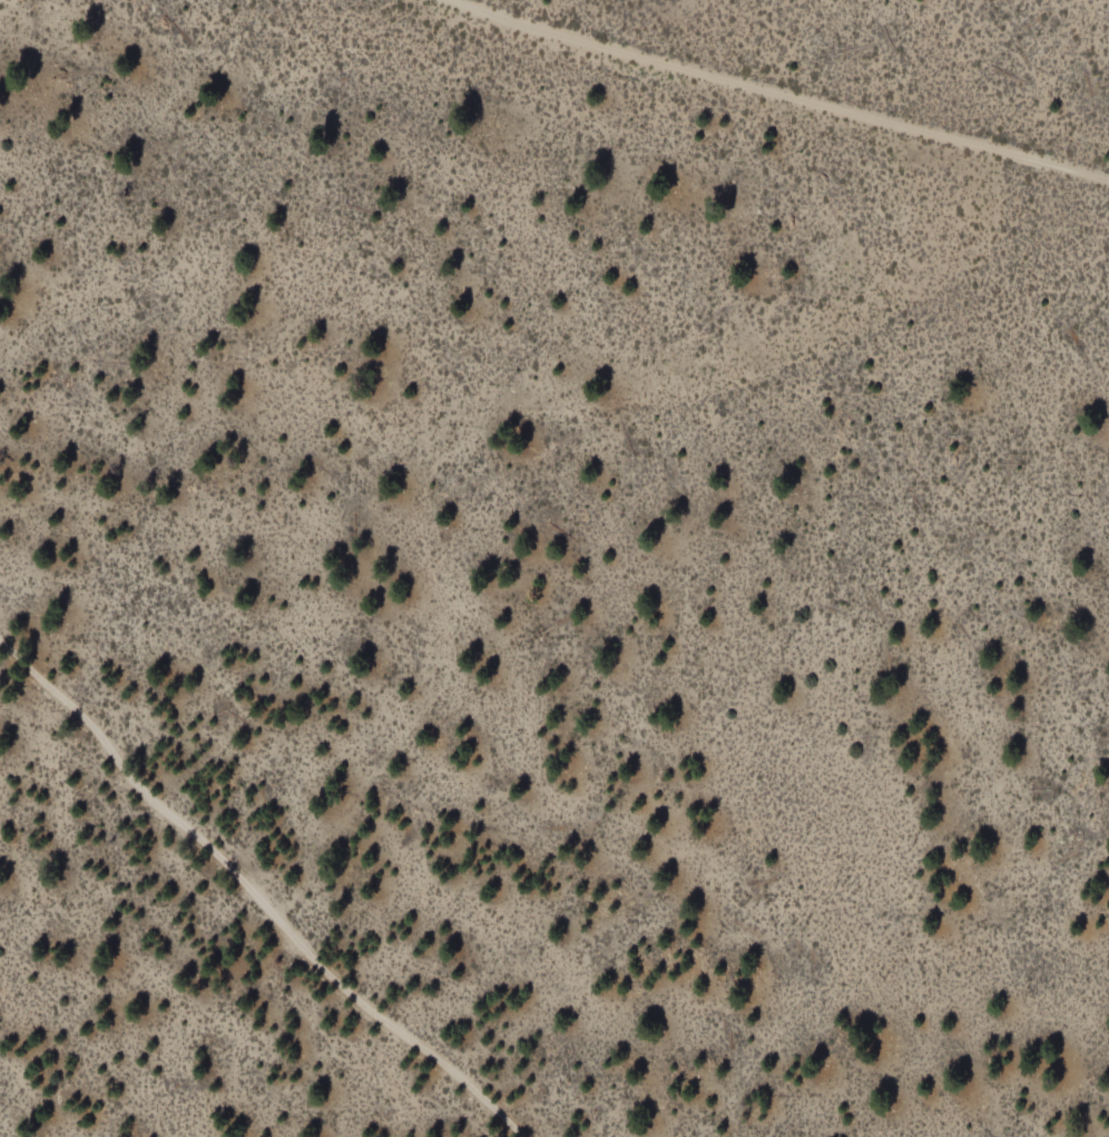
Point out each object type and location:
road: (768, 99)
road: (556, 419)
road: (257, 896)
road: (100, 997)
road: (4, 1098)

